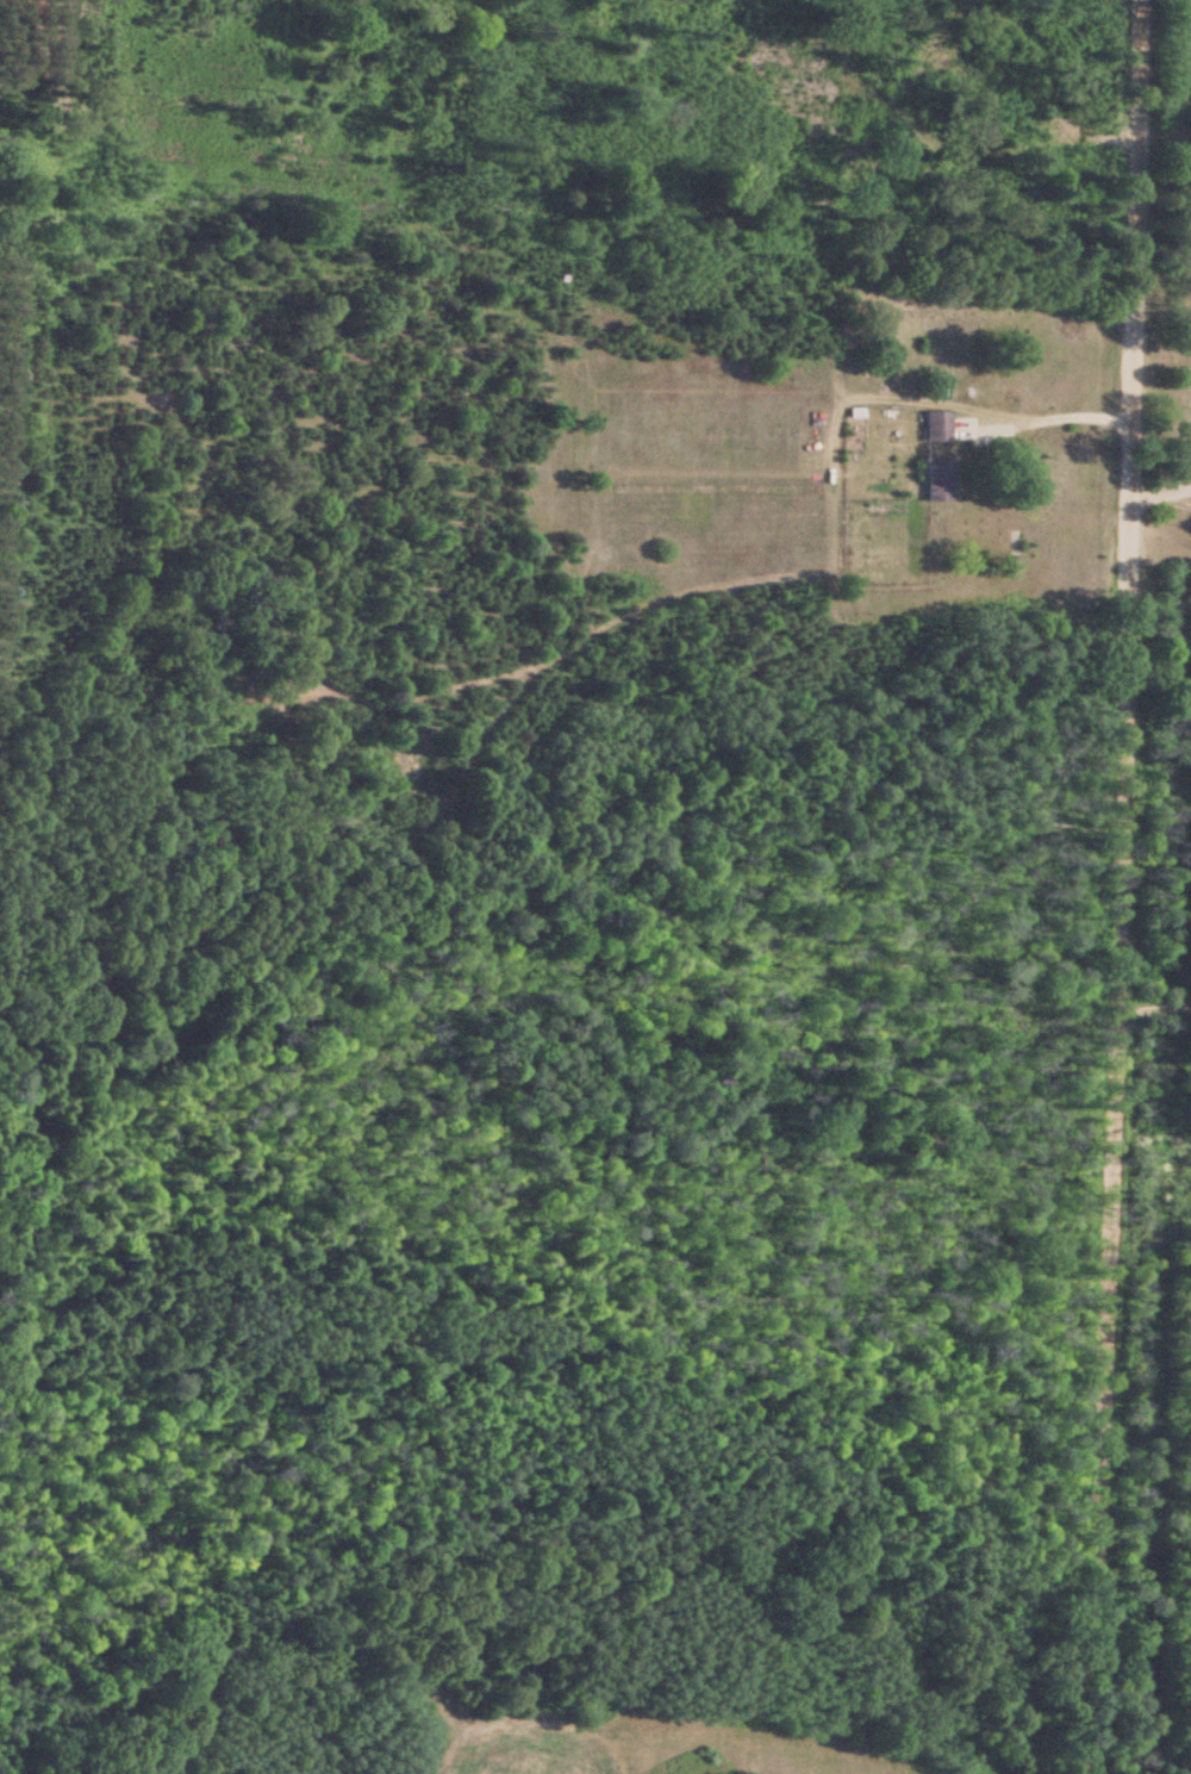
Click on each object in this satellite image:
building: (936, 425)
building: (936, 480)
road: (1109, 886)

